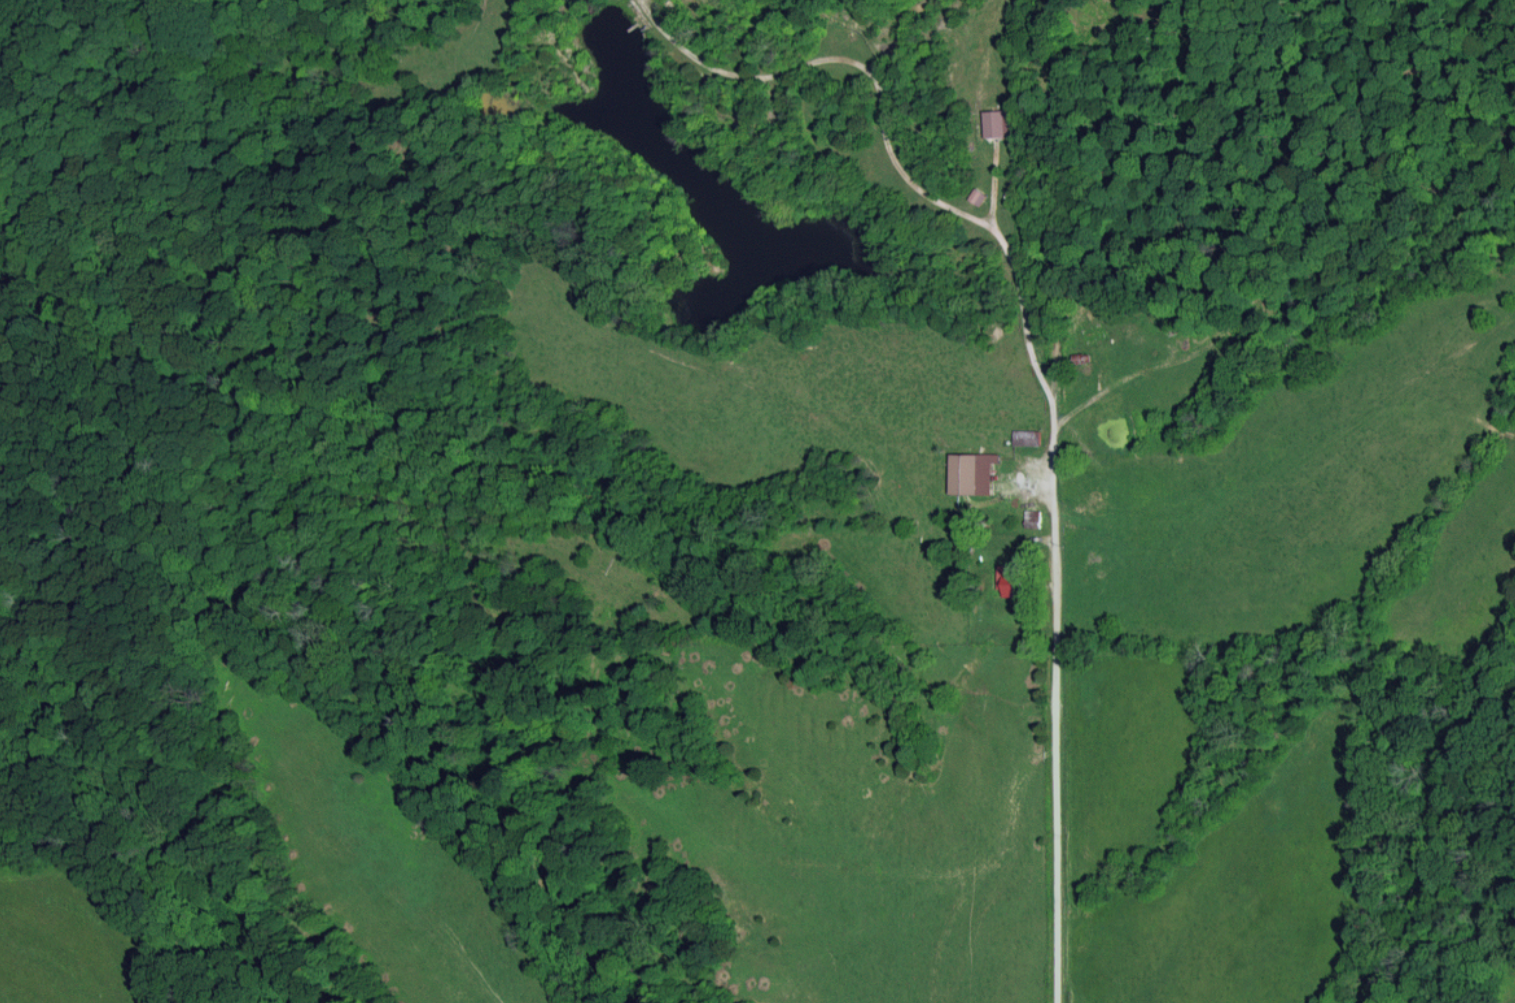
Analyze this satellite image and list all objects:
building: (994, 122)
building: (970, 473)
road: (1055, 711)

